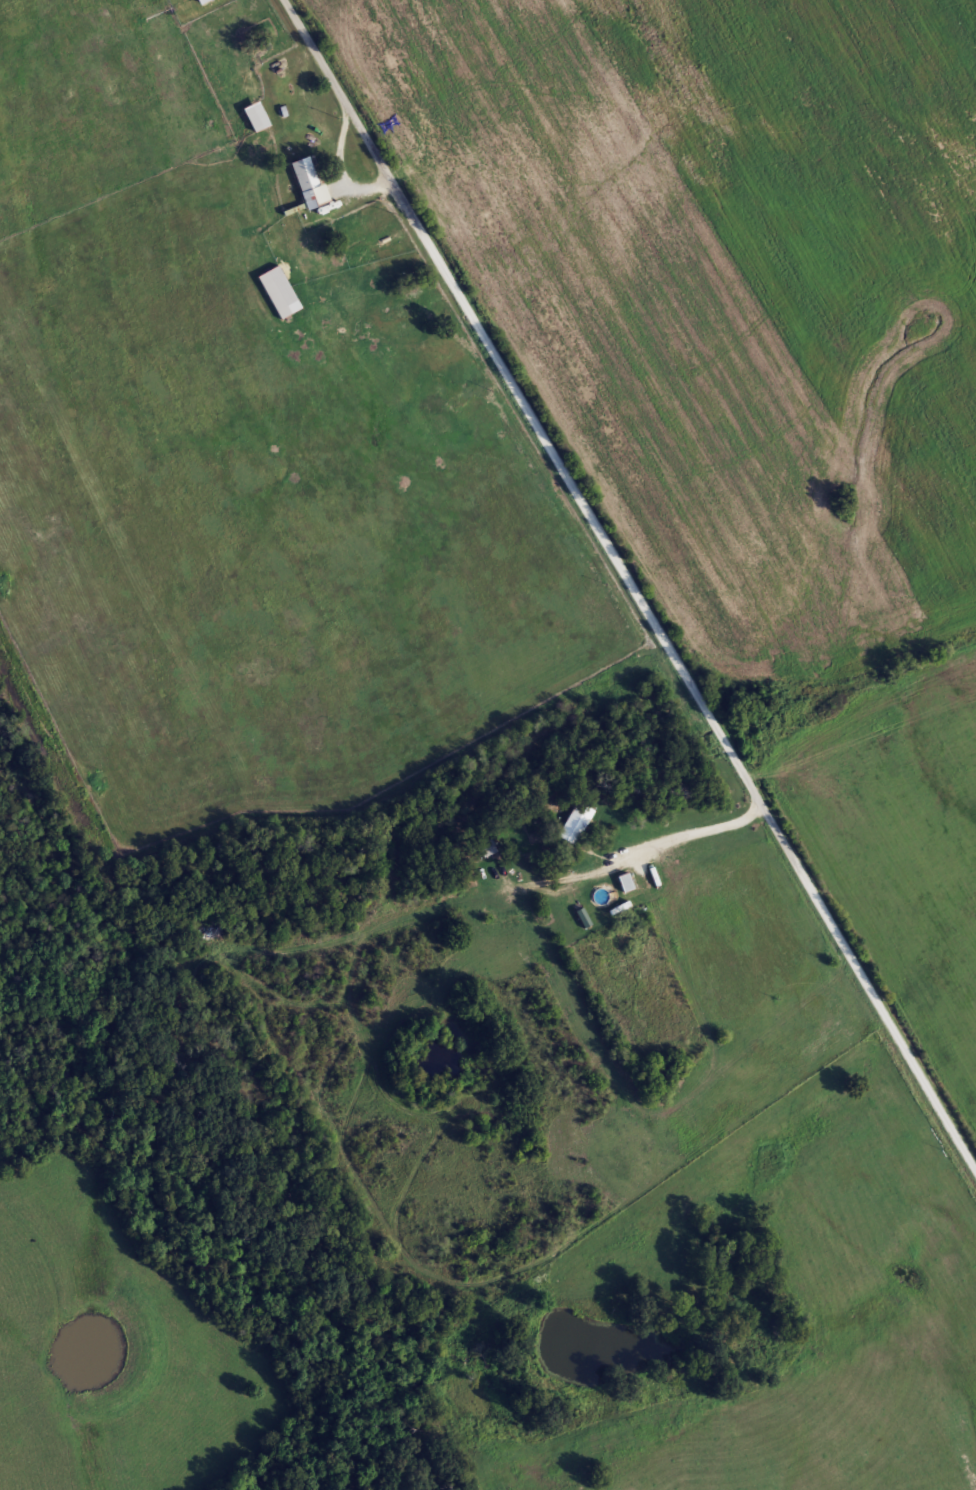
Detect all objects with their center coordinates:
building: (206, 1)
building: (258, 45)
building: (254, 116)
road: (317, 121)
building: (306, 181)
building: (277, 292)
road: (633, 578)
building: (573, 824)
road: (697, 829)
building: (485, 848)
building: (623, 883)

